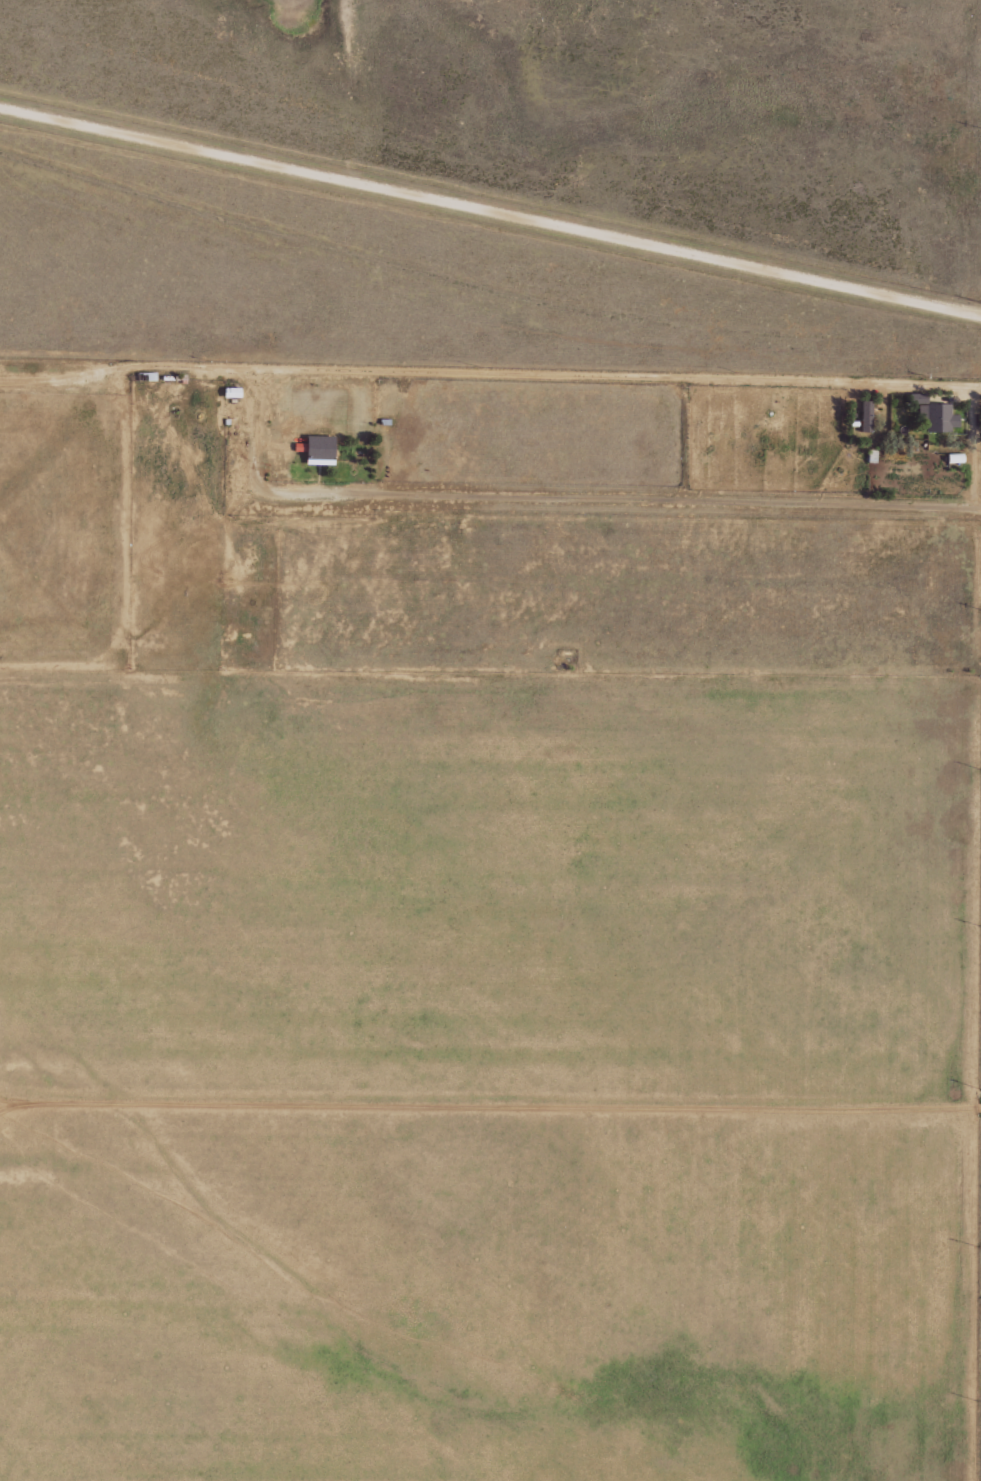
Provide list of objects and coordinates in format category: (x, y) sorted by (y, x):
road: (489, 218)
building: (915, 398)
building: (864, 416)
building: (935, 417)
building: (317, 450)

